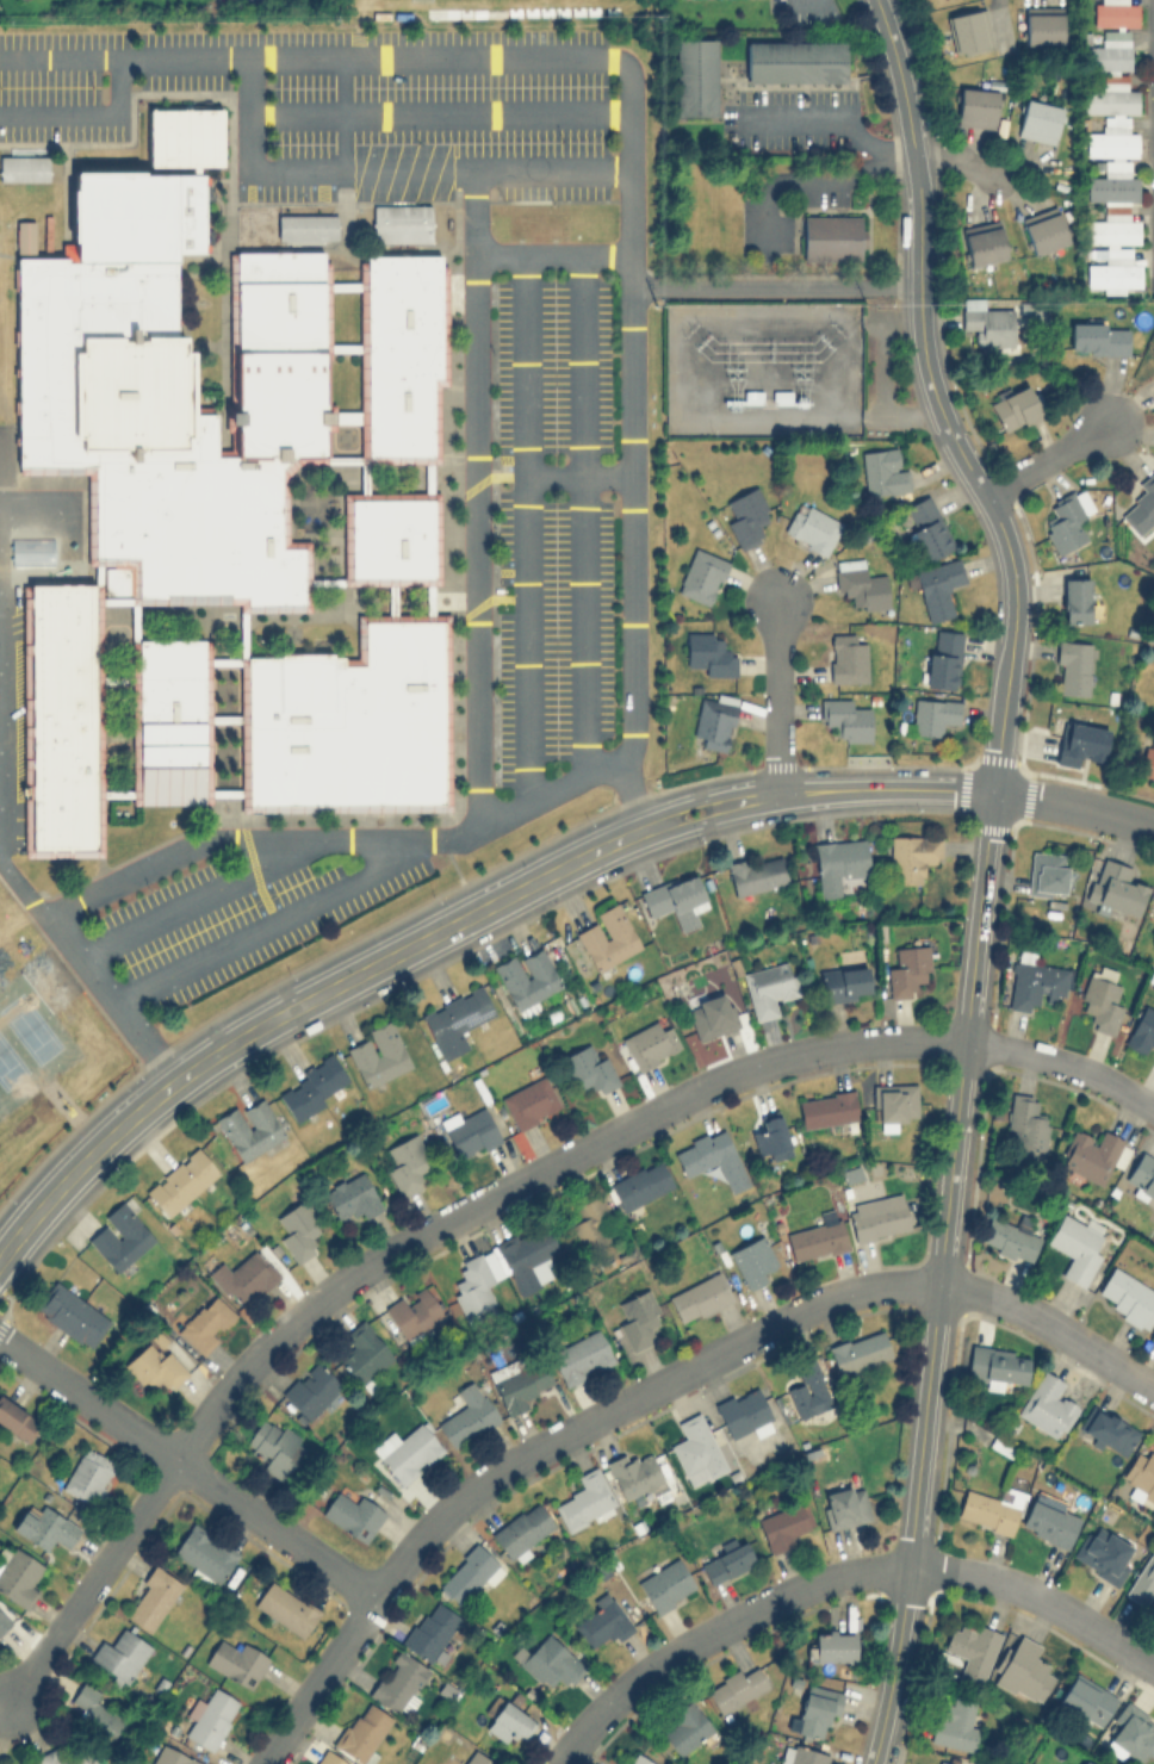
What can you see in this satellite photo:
building: (1115, 12)
building: (1043, 25)
building: (969, 31)
building: (1108, 54)
road: (58, 58)
road: (470, 58)
building: (794, 61)
building: (694, 76)
parking lot: (796, 97)
building: (1110, 98)
parking lot: (337, 100)
building: (975, 106)
road: (438, 112)
road: (87, 114)
road: (824, 116)
building: (1038, 120)
road: (910, 133)
parking lot: (774, 135)
building: (1111, 143)
road: (956, 161)
building: (23, 167)
road: (384, 167)
road: (814, 179)
building: (1111, 187)
parking lot: (817, 195)
road: (477, 210)
building: (534, 215)
building: (401, 223)
building: (306, 226)
parking lot: (764, 226)
building: (1043, 229)
building: (1112, 230)
building: (46, 232)
building: (831, 236)
building: (25, 238)
building: (982, 242)
road: (522, 254)
building: (1112, 271)
road: (773, 284)
building: (986, 322)
building: (1153, 331)
building: (1098, 337)
power substation: (762, 368)
building: (1013, 408)
road: (1047, 460)
building: (882, 470)
road: (578, 474)
building: (1141, 505)
building: (223, 510)
road: (582, 513)
parking lot: (553, 514)
building: (746, 514)
building: (1066, 520)
road: (20, 521)
building: (927, 526)
road: (999, 526)
road: (527, 527)
building: (812, 528)
building: (701, 574)
building: (858, 583)
building: (937, 586)
building: (1075, 598)
building: (708, 653)
building: (846, 657)
building: (943, 657)
building: (1073, 665)
road: (776, 697)
building: (932, 714)
building: (845, 719)
building: (713, 720)
building: (1080, 741)
building: (1149, 757)
road: (585, 772)
road: (1073, 807)
road: (255, 833)
building: (912, 856)
building: (838, 864)
building: (757, 874)
building: (1047, 874)
building: (1115, 887)
road: (196, 894)
building: (675, 899)
building: (1153, 913)
road: (274, 917)
parking lot: (230, 923)
road: (451, 925)
building: (607, 937)
building: (907, 969)
road: (87, 970)
building: (527, 976)
building: (843, 982)
building: (1035, 983)
building: (769, 986)
building: (1099, 999)
building: (709, 1014)
building: (454, 1019)
building: (1142, 1029)
building: (649, 1044)
building: (378, 1054)
building: (589, 1068)
building: (312, 1086)
building: (529, 1101)
building: (894, 1101)
building: (826, 1107)
building: (1025, 1122)
road: (619, 1126)
building: (249, 1128)
building: (470, 1132)
building: (770, 1137)
building: (1092, 1153)
building: (711, 1156)
building: (407, 1161)
building: (1141, 1175)
building: (181, 1180)
building: (639, 1184)
building: (350, 1195)
building: (877, 1216)
building: (591, 1223)
building: (298, 1229)
building: (120, 1235)
building: (815, 1240)
building: (1010, 1240)
building: (1075, 1244)
building: (526, 1254)
building: (753, 1260)
building: (244, 1277)
road: (938, 1280)
building: (473, 1284)
building: (1125, 1294)
building: (699, 1297)
building: (72, 1313)
building: (638, 1318)
building: (206, 1322)
building: (1152, 1336)
building: (858, 1350)
building: (364, 1352)
building: (581, 1356)
building: (155, 1364)
building: (995, 1365)
building: (520, 1381)
road: (651, 1386)
building: (808, 1389)
building: (310, 1390)
building: (1047, 1404)
building: (744, 1411)
building: (469, 1414)
building: (17, 1418)
building: (1106, 1429)
building: (273, 1445)
building: (695, 1449)
building: (407, 1451)
road: (188, 1468)
building: (1141, 1472)
building: (634, 1473)
building: (88, 1474)
building: (585, 1499)
building: (844, 1505)
building: (991, 1508)
building: (353, 1514)
building: (1049, 1522)
building: (783, 1524)
building: (44, 1527)
building: (522, 1529)
building: (205, 1552)
building: (1103, 1552)
building: (726, 1560)
building: (470, 1573)
building: (18, 1574)
road: (836, 1577)
building: (1142, 1580)
road: (92, 1584)
building: (665, 1584)
building: (153, 1597)
building: (285, 1607)
building: (5, 1616)
building: (602, 1621)
building: (429, 1628)
building: (831, 1646)
building: (972, 1646)
building: (120, 1656)
building: (236, 1661)
building: (550, 1661)
building: (1024, 1670)
building: (397, 1681)
building: (734, 1687)
building: (1086, 1698)
building: (815, 1710)
building: (95, 1713)
building: (210, 1718)
building: (508, 1721)
building: (955, 1723)
building: (684, 1728)
building: (364, 1731)
building: (1131, 1734)
building: (50, 1751)
building: (801, 1754)
building: (174, 1756)
building: (329, 1758)
building: (476, 1758)
building: (639, 1759)
building: (942, 1762)
building: (1084, 1762)
building: (616, 1763)

